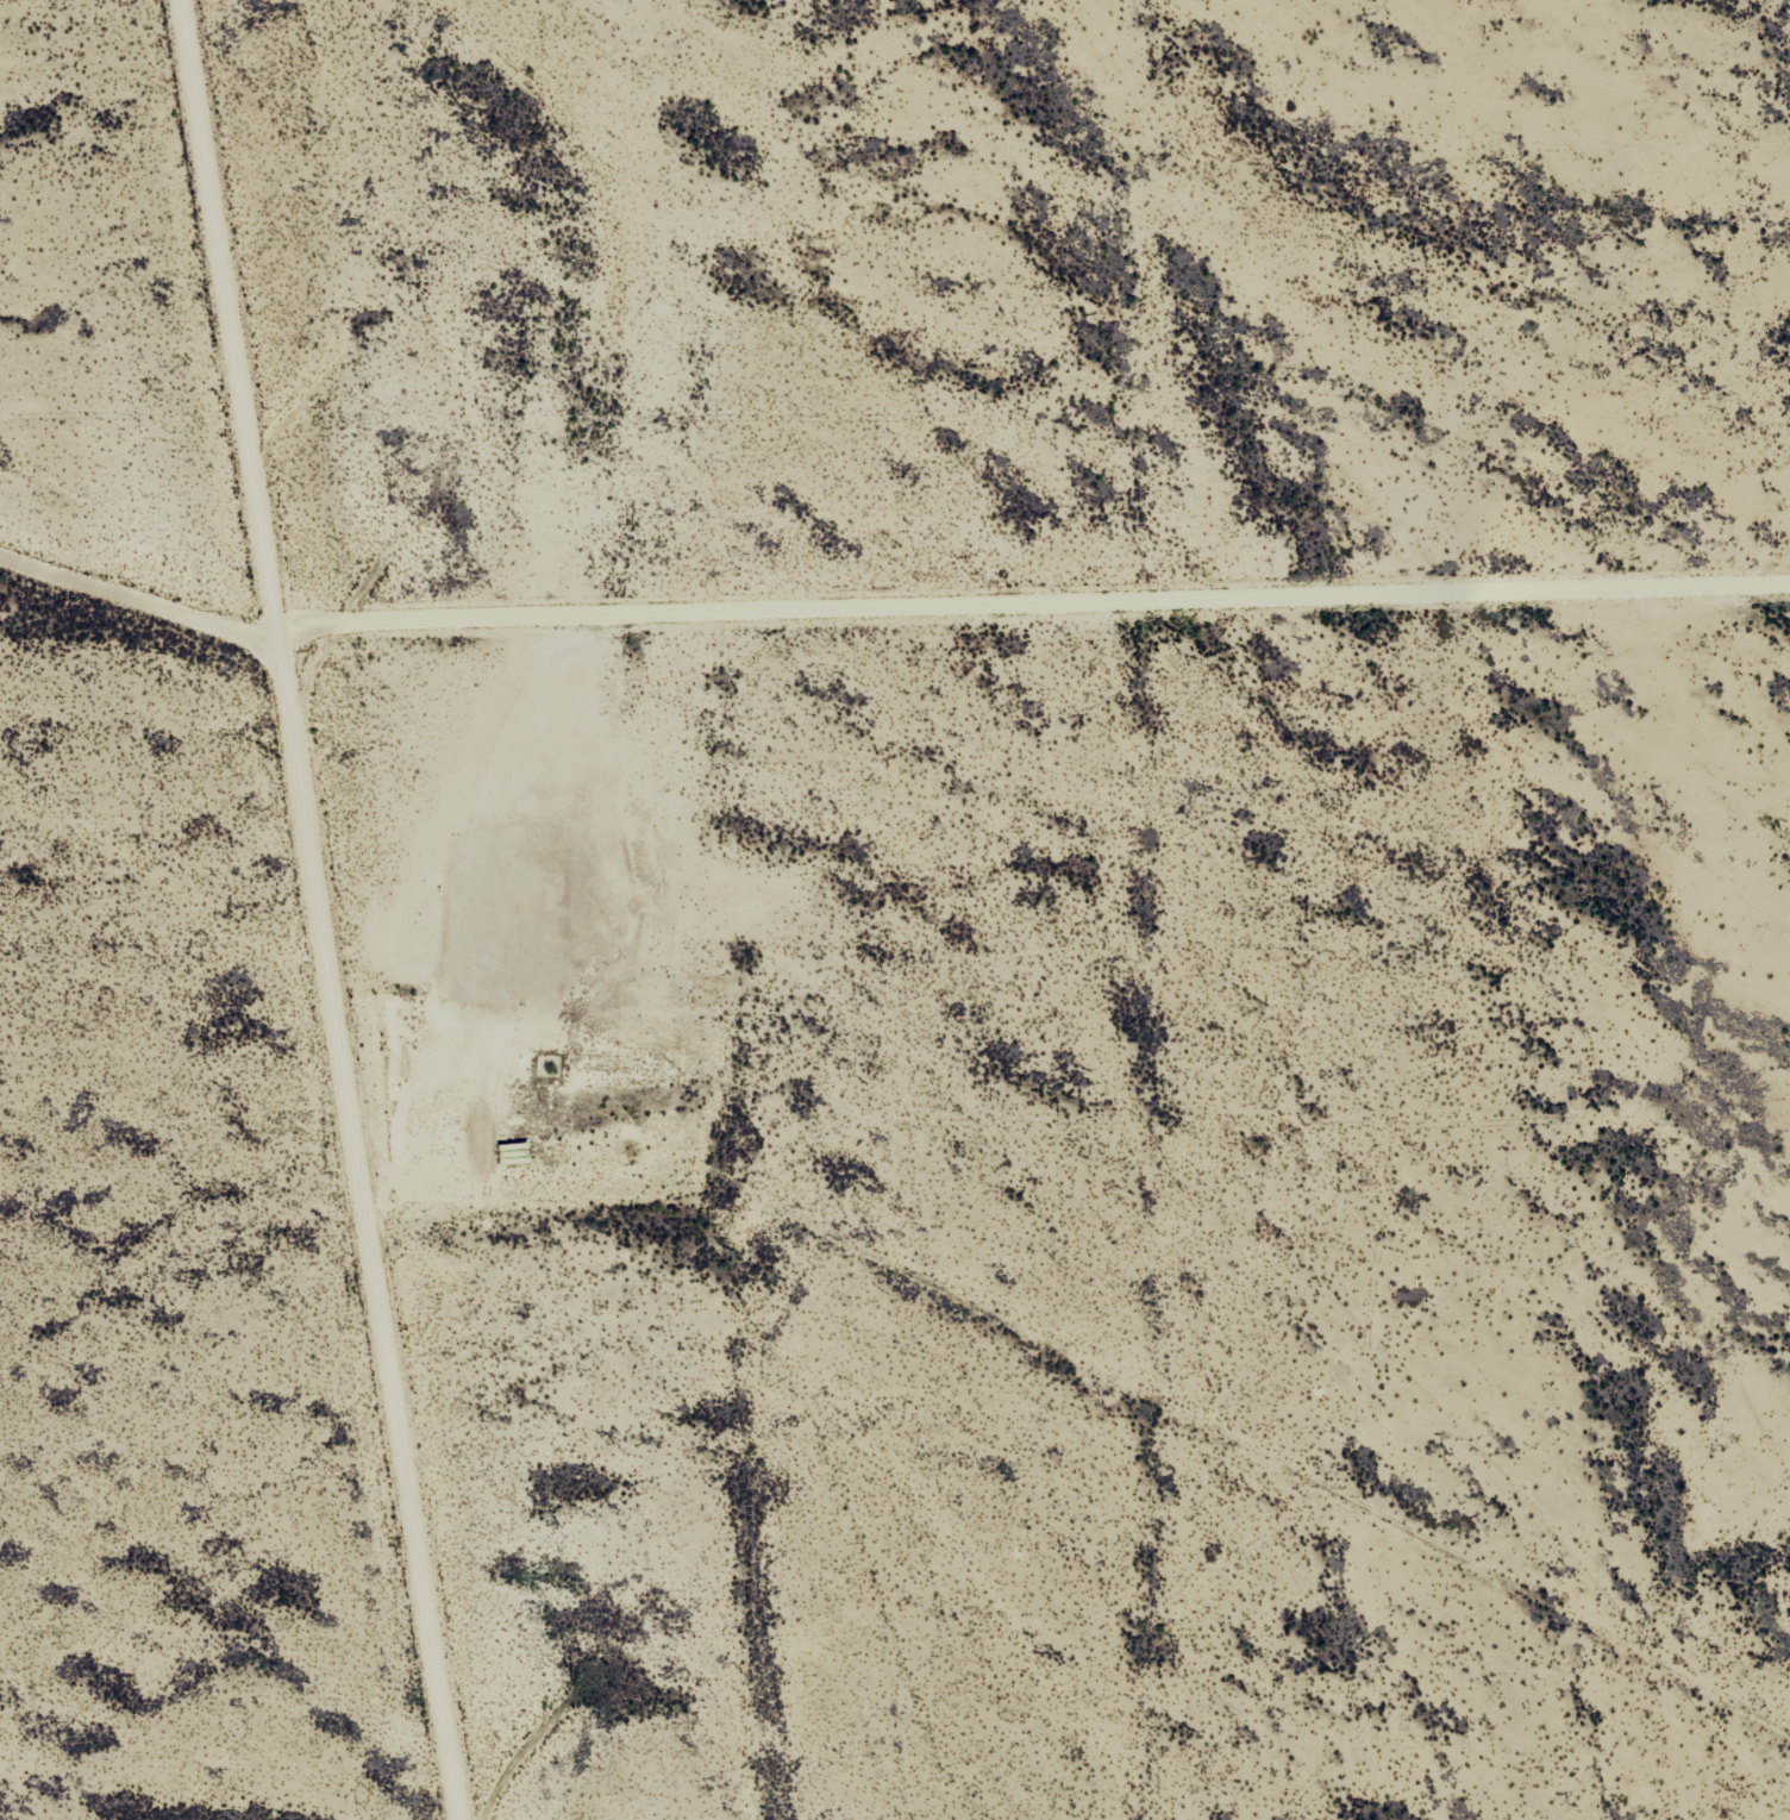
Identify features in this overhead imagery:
road: (402, 911)
road: (0, 1819)

